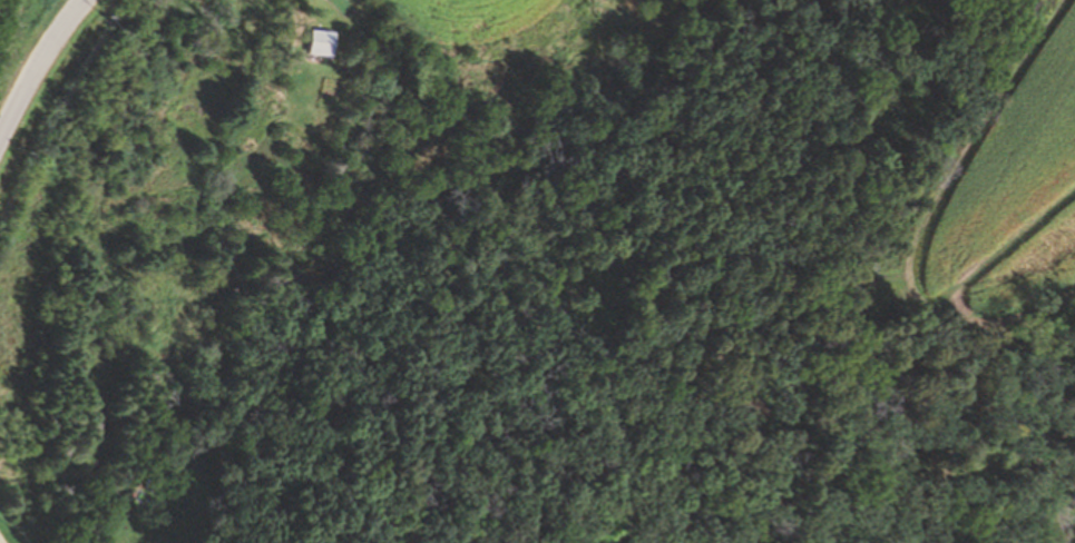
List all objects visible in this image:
building: (329, 40)
road: (39, 69)
road: (6, 534)

